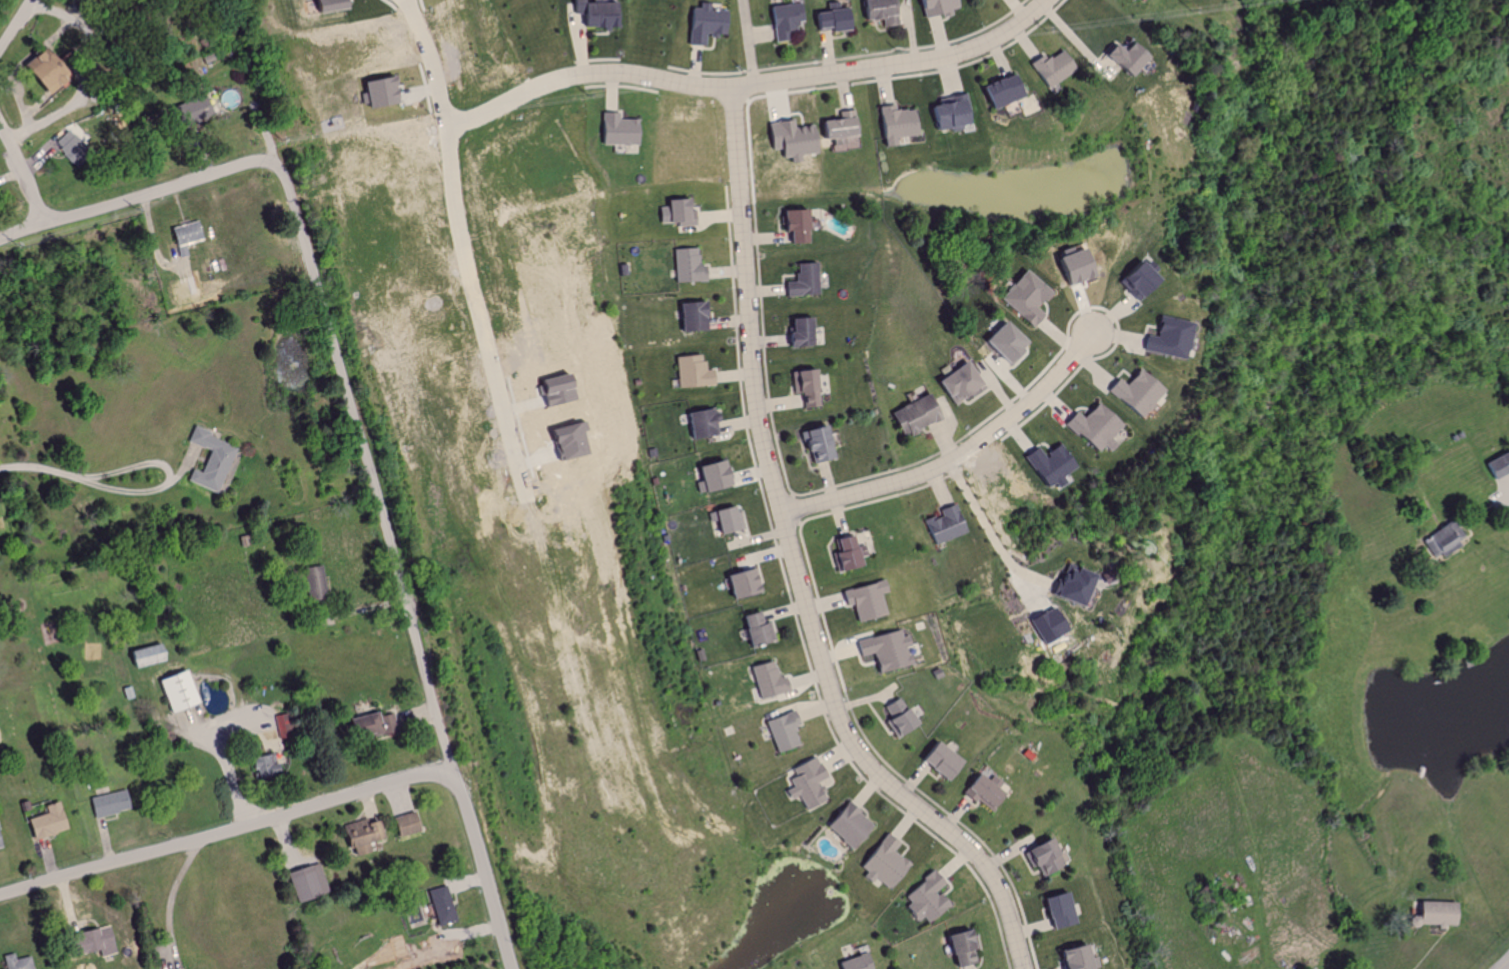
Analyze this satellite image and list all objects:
building: (1125, 0)
building: (325, 4)
building: (934, 7)
building: (879, 11)
building: (595, 13)
building: (828, 19)
building: (783, 20)
building: (703, 23)
road: (14, 25)
road: (751, 42)
building: (1119, 57)
road: (430, 61)
building: (1049, 67)
road: (817, 74)
building: (996, 90)
building: (373, 91)
road: (512, 97)
building: (186, 111)
building: (946, 112)
building: (895, 123)
building: (838, 127)
building: (617, 130)
building: (790, 138)
road: (23, 172)
building: (674, 213)
building: (792, 224)
building: (183, 233)
building: (1070, 265)
building: (690, 267)
building: (1131, 277)
building: (801, 281)
building: (1023, 297)
building: (687, 316)
road: (326, 329)
building: (798, 331)
building: (1165, 337)
building: (1001, 341)
building: (689, 372)
building: (957, 382)
building: (804, 386)
building: (1132, 392)
building: (914, 415)
building: (700, 422)
building: (1093, 426)
building: (816, 442)
road: (962, 455)
building: (207, 460)
building: (1047, 464)
building: (1495, 464)
road: (40, 465)
road: (168, 473)
building: (710, 476)
road: (529, 482)
building: (725, 520)
road: (989, 523)
building: (944, 524)
building: (1435, 539)
building: (845, 553)
road: (801, 562)
building: (312, 583)
building: (739, 583)
building: (1070, 585)
building: (865, 600)
building: (1047, 623)
building: (755, 628)
building: (885, 650)
building: (144, 655)
building: (767, 680)
building: (176, 690)
building: (897, 717)
building: (366, 724)
building: (783, 730)
building: (934, 760)
building: (260, 766)
road: (232, 777)
building: (805, 783)
building: (982, 790)
building: (106, 804)
building: (45, 822)
building: (405, 824)
building: (846, 826)
road: (226, 829)
building: (358, 836)
building: (0, 845)
building: (881, 863)
road: (485, 868)
building: (305, 882)
road: (175, 887)
building: (922, 898)
building: (441, 906)
building: (1054, 910)
building: (1434, 914)
building: (89, 942)
building: (958, 947)
building: (1073, 958)
building: (17, 962)
road: (1502, 962)
building: (852, 963)

